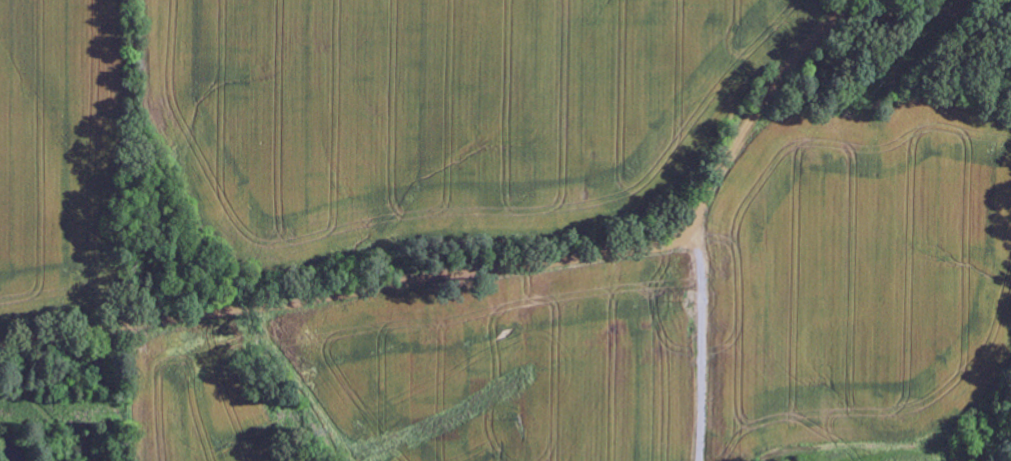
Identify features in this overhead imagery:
road: (484, 267)

